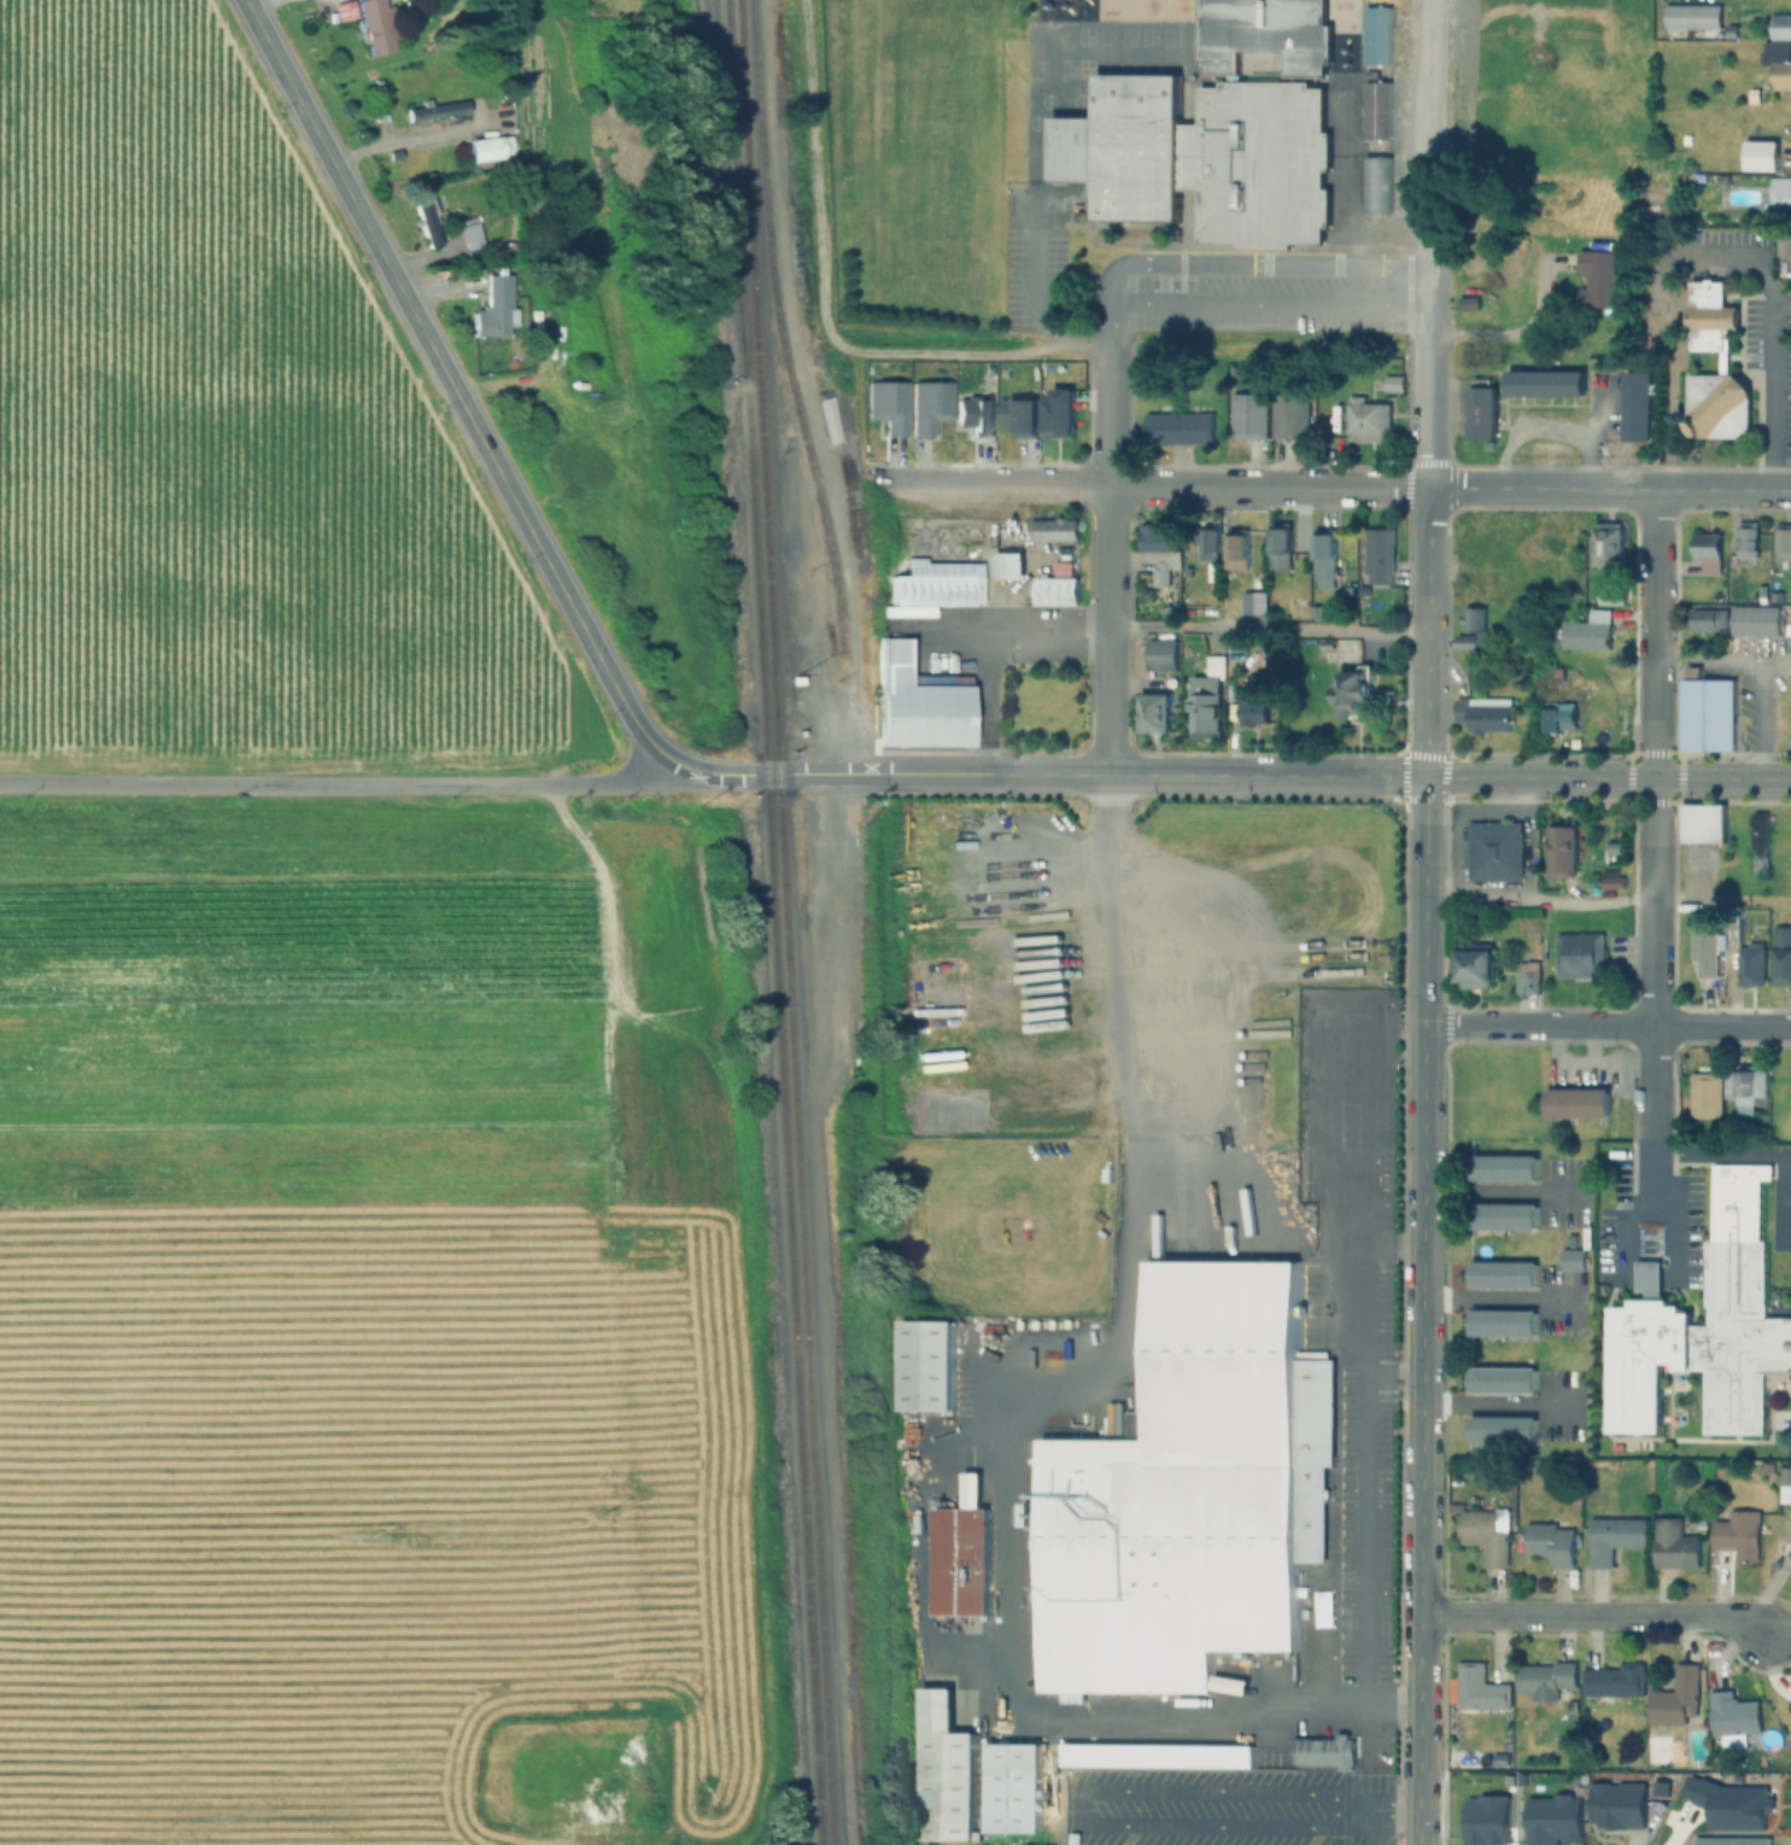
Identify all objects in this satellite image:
building: (1690, 16)
building: (1780, 27)
building: (375, 28)
building: (1263, 33)
building: (1731, 33)
building: (1376, 36)
building: (1781, 76)
parking lot: (1457, 91)
building: (1754, 94)
building: (1376, 111)
building: (435, 112)
road: (1432, 133)
building: (488, 150)
building: (1761, 156)
building: (1204, 158)
park: (914, 162)
road: (1346, 174)
building: (1375, 185)
railway: (720, 188)
building: (1780, 192)
building: (425, 218)
building: (468, 235)
building: (1783, 244)
road: (1754, 251)
road: (1233, 263)
building: (1594, 279)
road: (1035, 293)
parking lot: (1247, 293)
road: (820, 294)
building: (1468, 302)
parking lot: (1751, 302)
road: (1269, 304)
building: (491, 309)
building: (1709, 315)
railway: (779, 325)
road: (1505, 328)
road: (1670, 360)
road: (1429, 375)
building: (1545, 381)
road: (452, 383)
building: (1393, 384)
road: (1772, 389)
building: (885, 404)
building: (927, 404)
building: (1639, 404)
building: (1717, 404)
building: (1058, 411)
building: (1482, 411)
building: (973, 414)
building: (1248, 414)
building: (1018, 415)
building: (1289, 415)
building: (1366, 419)
building: (1178, 425)
road: (1593, 427)
road: (1546, 430)
railway: (759, 450)
crop: (235, 463)
road: (989, 483)
road: (1268, 485)
road: (1609, 487)
building: (1053, 527)
building: (1158, 536)
building: (1746, 539)
building: (1211, 541)
building: (1781, 541)
building: (1236, 543)
building: (1606, 543)
building: (1278, 544)
building: (1324, 553)
building: (1708, 553)
building: (1377, 554)
road: (1108, 562)
building: (1008, 565)
building: (1186, 571)
building: (1159, 574)
building: (927, 580)
building: (1055, 586)
building: (1608, 594)
building: (1775, 597)
building: (1252, 603)
building: (1316, 613)
building: (1708, 619)
road: (1009, 624)
road: (1268, 629)
building: (1473, 629)
road: (1427, 631)
building: (1587, 631)
parking lot: (1040, 637)
building: (1161, 655)
road: (1721, 660)
building: (1352, 694)
road: (985, 700)
building: (918, 702)
building: (1251, 706)
building: (1205, 708)
building: (1153, 712)
building: (1705, 713)
building: (1483, 714)
building: (1558, 717)
road: (1756, 719)
road: (838, 729)
flagpole: (1742, 749)
road: (772, 775)
road: (1152, 775)
road: (1606, 777)
road: (335, 782)
building: (1702, 823)
building: (1758, 835)
road: (1652, 843)
building: (1493, 849)
building: (1559, 849)
building: (1611, 882)
road: (1606, 898)
railway: (769, 922)
building: (1734, 934)
building: (1704, 945)
building: (1578, 953)
building: (1781, 956)
building: (1474, 964)
building: (1750, 964)
building: (1523, 976)
road: (1606, 1024)
building: (1742, 1087)
building: (1704, 1093)
building: (1280, 1097)
building: (1578, 1103)
road: (1722, 1155)
building: (1503, 1168)
road: (1500, 1192)
road: (1421, 1195)
road: (1651, 1199)
building: (1502, 1216)
parking lot: (1779, 1219)
parking lot: (1651, 1244)
road: (1389, 1250)
building: (1573, 1260)
building: (1503, 1273)
road: (1649, 1274)
road: (1499, 1297)
building: (1502, 1321)
building: (1704, 1327)
crop: (369, 1330)
building: (1142, 1344)
building: (925, 1366)
road: (1360, 1370)
railway: (806, 1373)
building: (1141, 1378)
building: (1502, 1379)
road: (1389, 1382)
road: (1500, 1406)
road: (1034, 1411)
building: (1502, 1429)
building: (1035, 1472)
building: (1034, 1485)
building: (1188, 1491)
building: (1487, 1534)
building: (1737, 1534)
building: (1789, 1534)
building: (1613, 1537)
building: (1036, 1542)
building: (1549, 1543)
building: (1673, 1545)
road: (919, 1549)
building: (1034, 1555)
building: (960, 1560)
road: (1592, 1615)
building: (1316, 1635)
building: (1035, 1640)
building: (1035, 1659)
building: (1544, 1680)
building: (1614, 1681)
road: (1417, 1689)
building: (1480, 1689)
building: (1676, 1697)
building: (1790, 1706)
building: (1732, 1712)
building: (1325, 1752)
building: (1275, 1761)
building: (944, 1770)
road: (1090, 1797)
building: (1013, 1802)
road: (1416, 1805)
building: (1731, 1808)
building: (1619, 1809)
building: (1486, 1821)
building: (1555, 1821)

